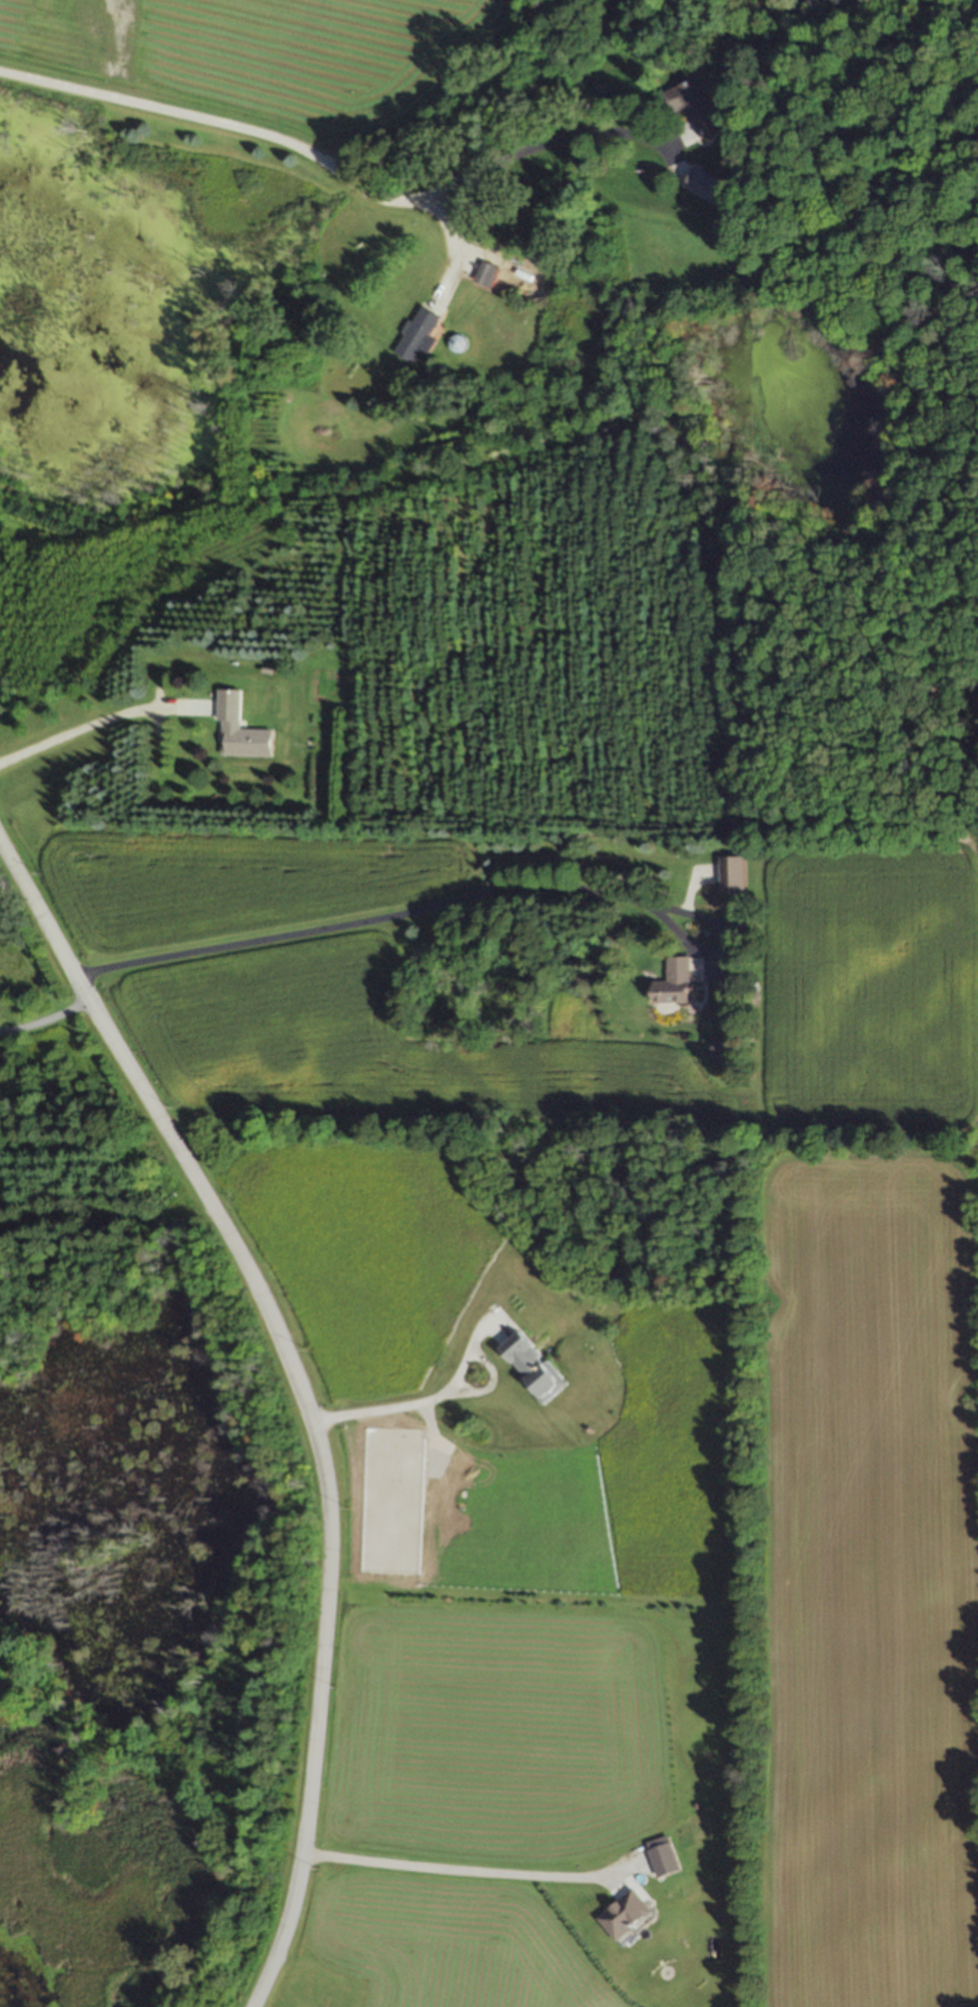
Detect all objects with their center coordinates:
building: (691, 106)
road: (334, 171)
road: (449, 242)
building: (408, 335)
road: (93, 722)
building: (236, 730)
building: (729, 875)
road: (462, 897)
building: (671, 982)
road: (44, 1018)
building: (528, 1365)
road: (303, 1392)
road: (419, 1401)
road: (454, 1869)
building: (621, 1914)
building: (316, 1996)

